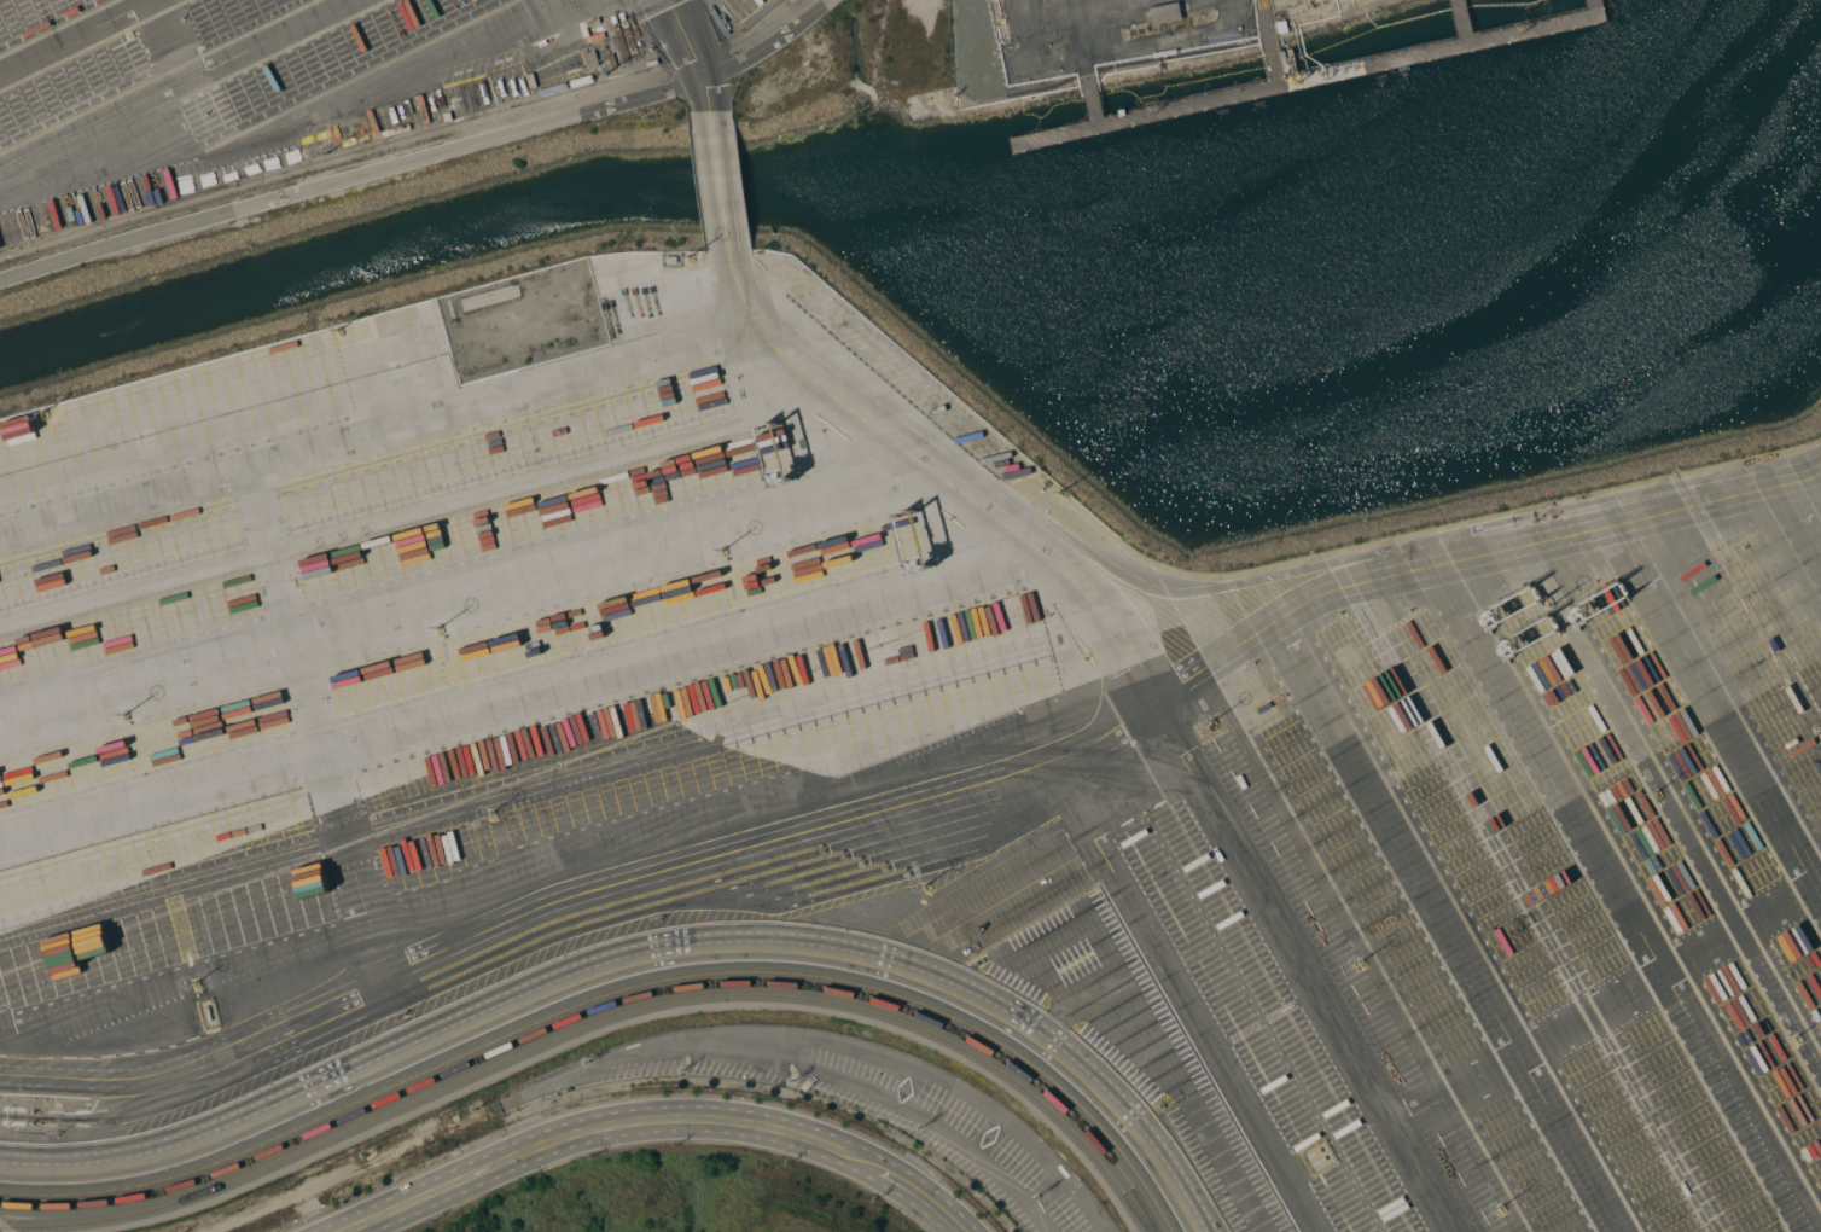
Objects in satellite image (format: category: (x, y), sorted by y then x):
building: (1165, 12)
building: (1282, 27)
road: (64, 30)
building: (1488, 34)
road: (162, 36)
road: (692, 53)
road: (164, 79)
road: (327, 98)
building: (1122, 111)
road: (420, 156)
road: (718, 185)
road: (327, 443)
road: (1798, 515)
road: (1152, 693)
road: (1551, 772)
road: (919, 796)
road: (1817, 894)
road: (1790, 902)
road: (1445, 930)
road: (635, 958)
railway: (617, 992)
road: (1186, 995)
railway: (610, 1006)
railway: (601, 1019)
road: (599, 1126)
road: (919, 1195)

